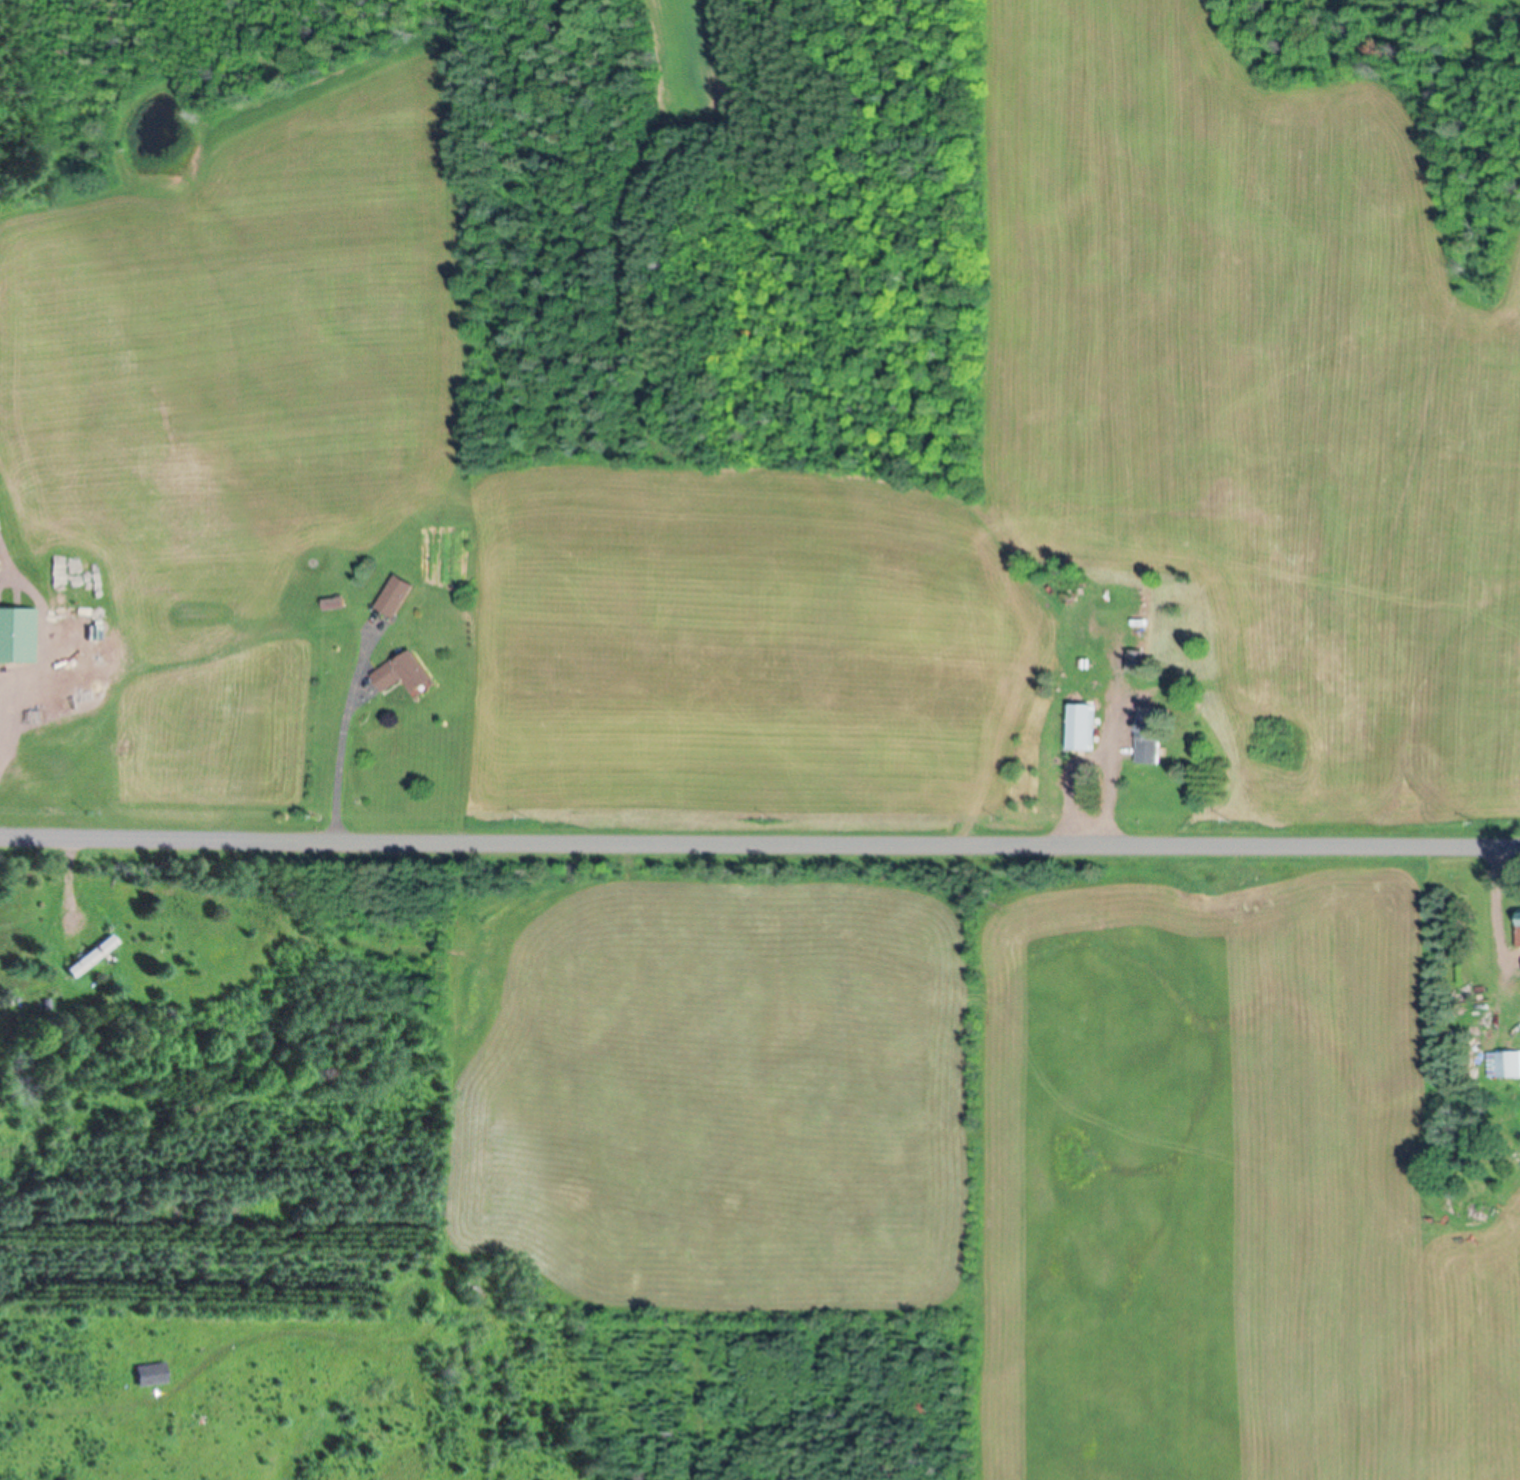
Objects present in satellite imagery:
crop: (682, 57)
crop: (801, 493)
building: (395, 597)
building: (18, 637)
building: (1135, 662)
building: (407, 675)
crop: (383, 680)
crop: (1112, 701)
building: (1083, 729)
building: (1151, 741)
crop: (232, 830)
crop: (746, 833)
crop: (1345, 836)
road: (759, 845)
building: (1519, 931)
building: (94, 959)
building: (1508, 1067)
building: (151, 1377)

